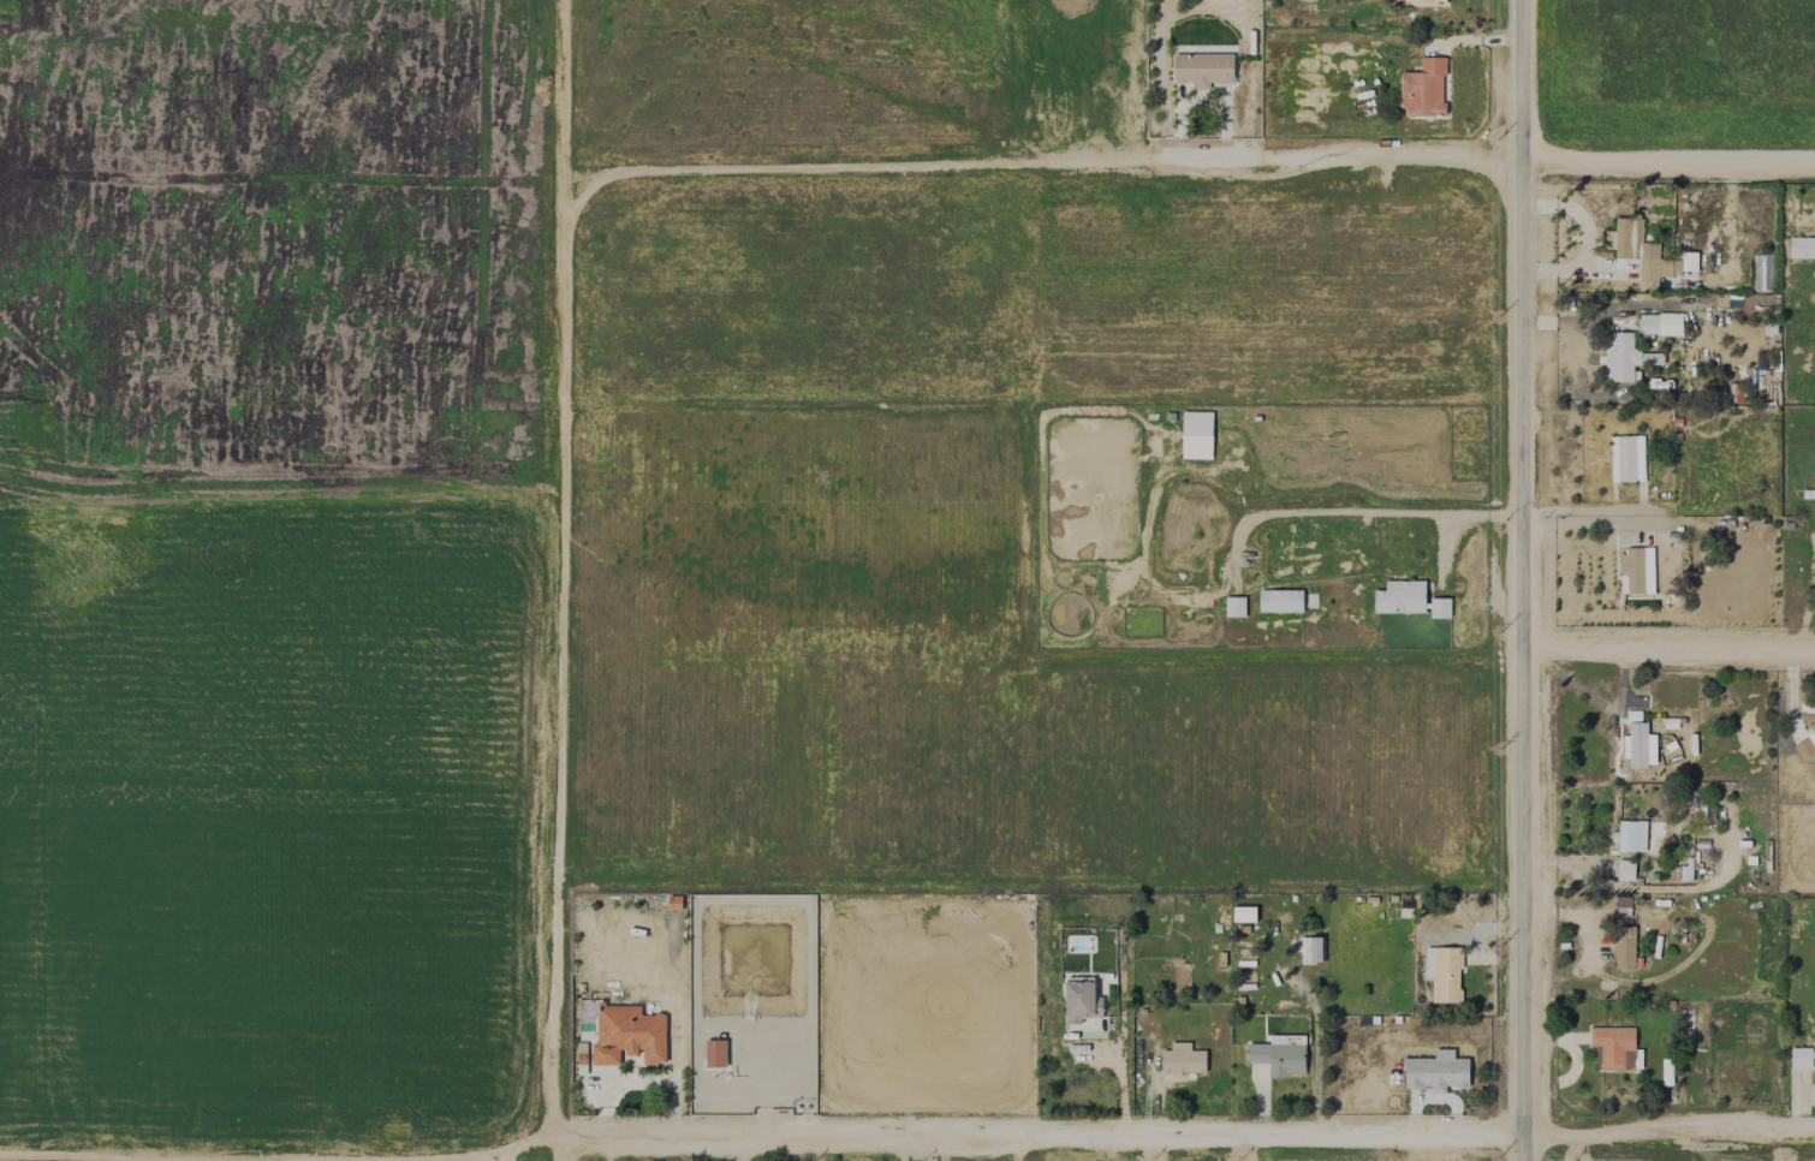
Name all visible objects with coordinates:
building: (1422, 1)
building: (1202, 70)
building: (1423, 89)
road: (1484, 166)
road: (857, 168)
building: (1801, 248)
building: (1647, 252)
building: (1647, 323)
building: (1624, 357)
building: (1195, 434)
building: (1626, 458)
road: (1361, 512)
road: (1595, 520)
building: (1636, 570)
road: (559, 580)
road: (1522, 580)
building: (1399, 597)
building: (1279, 601)
building: (1233, 606)
building: (1439, 608)
road: (1668, 647)
building: (1813, 727)
building: (1803, 748)
building: (1630, 835)
building: (1624, 870)
building: (1243, 913)
building: (1624, 947)
building: (1310, 949)
building: (1427, 961)
building: (1445, 975)
building: (1081, 1000)
building: (1692, 1026)
building: (627, 1036)
building: (1613, 1048)
building: (714, 1054)
building: (1799, 1058)
building: (1182, 1059)
road: (1123, 1070)
building: (1435, 1072)
road: (906, 1144)

